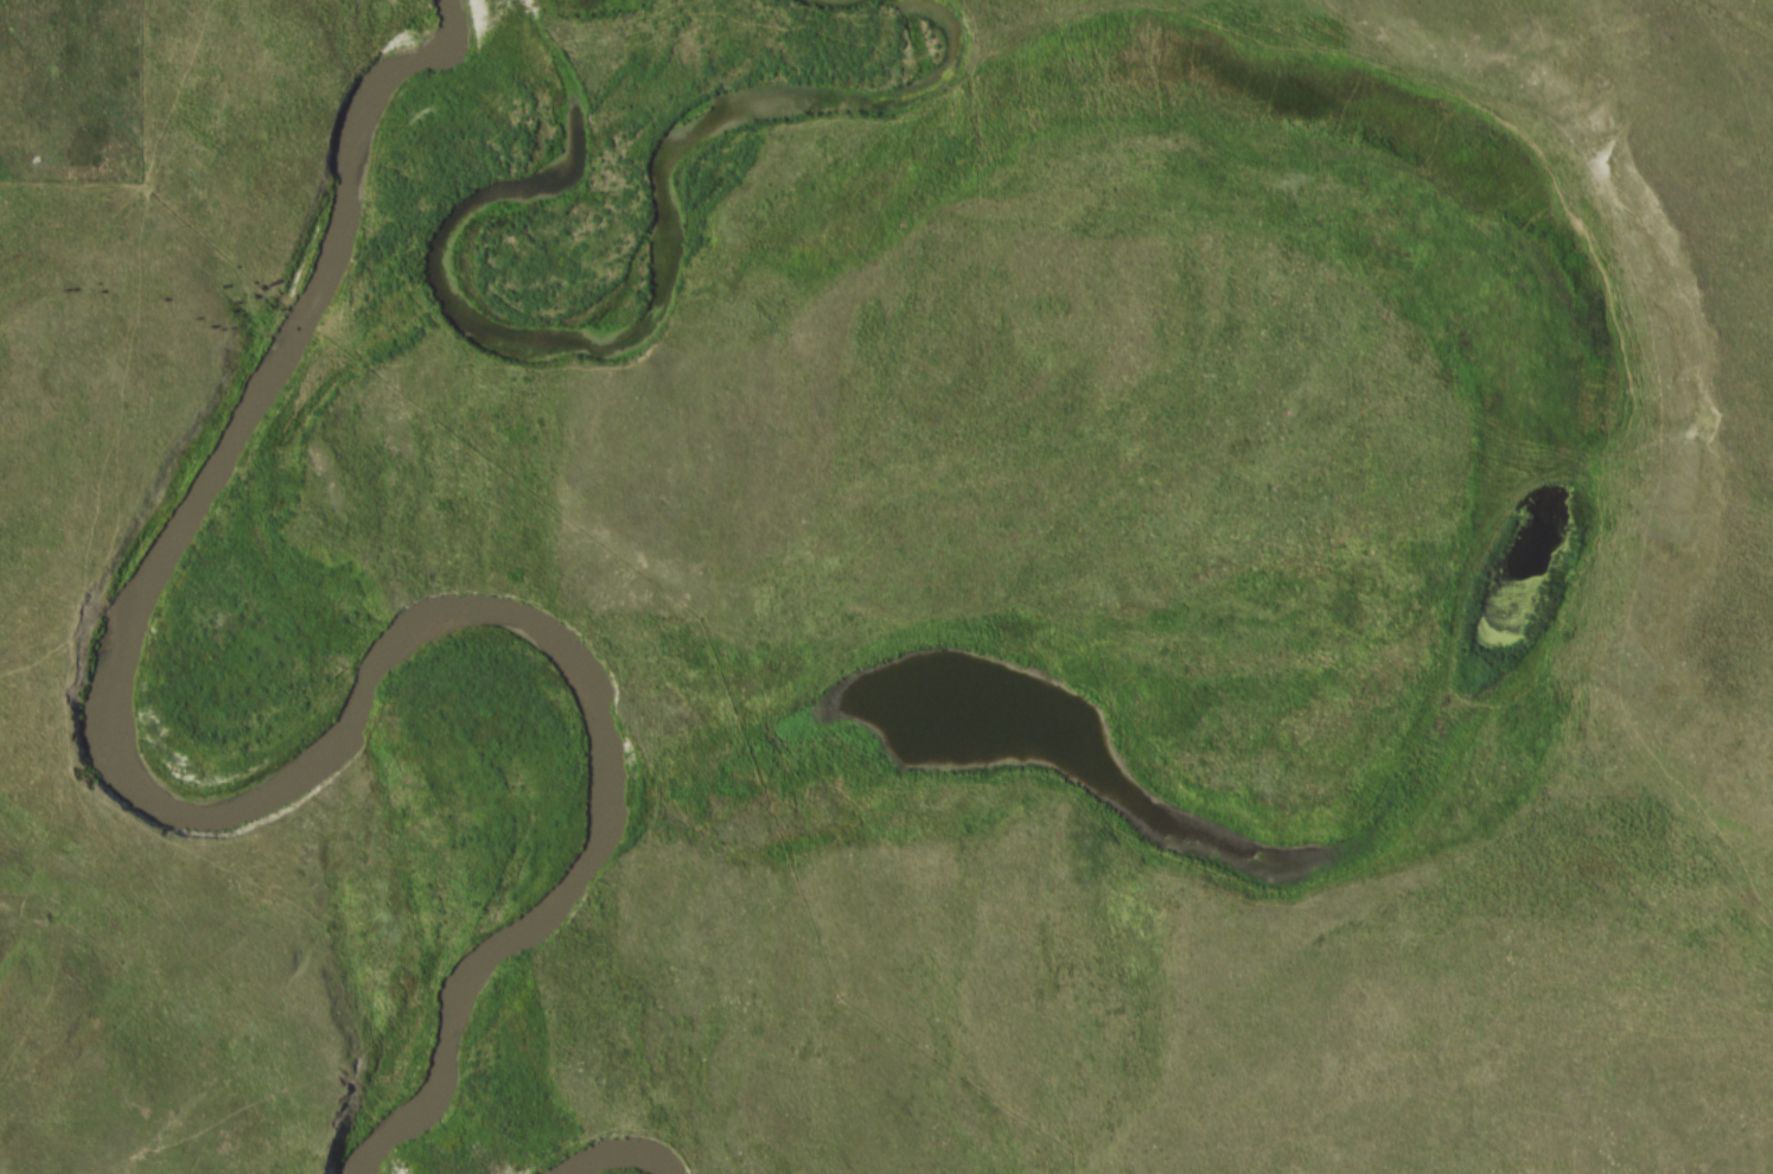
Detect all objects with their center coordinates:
building: (231, 442)
river: (232, 781)
river: (618, 1169)

